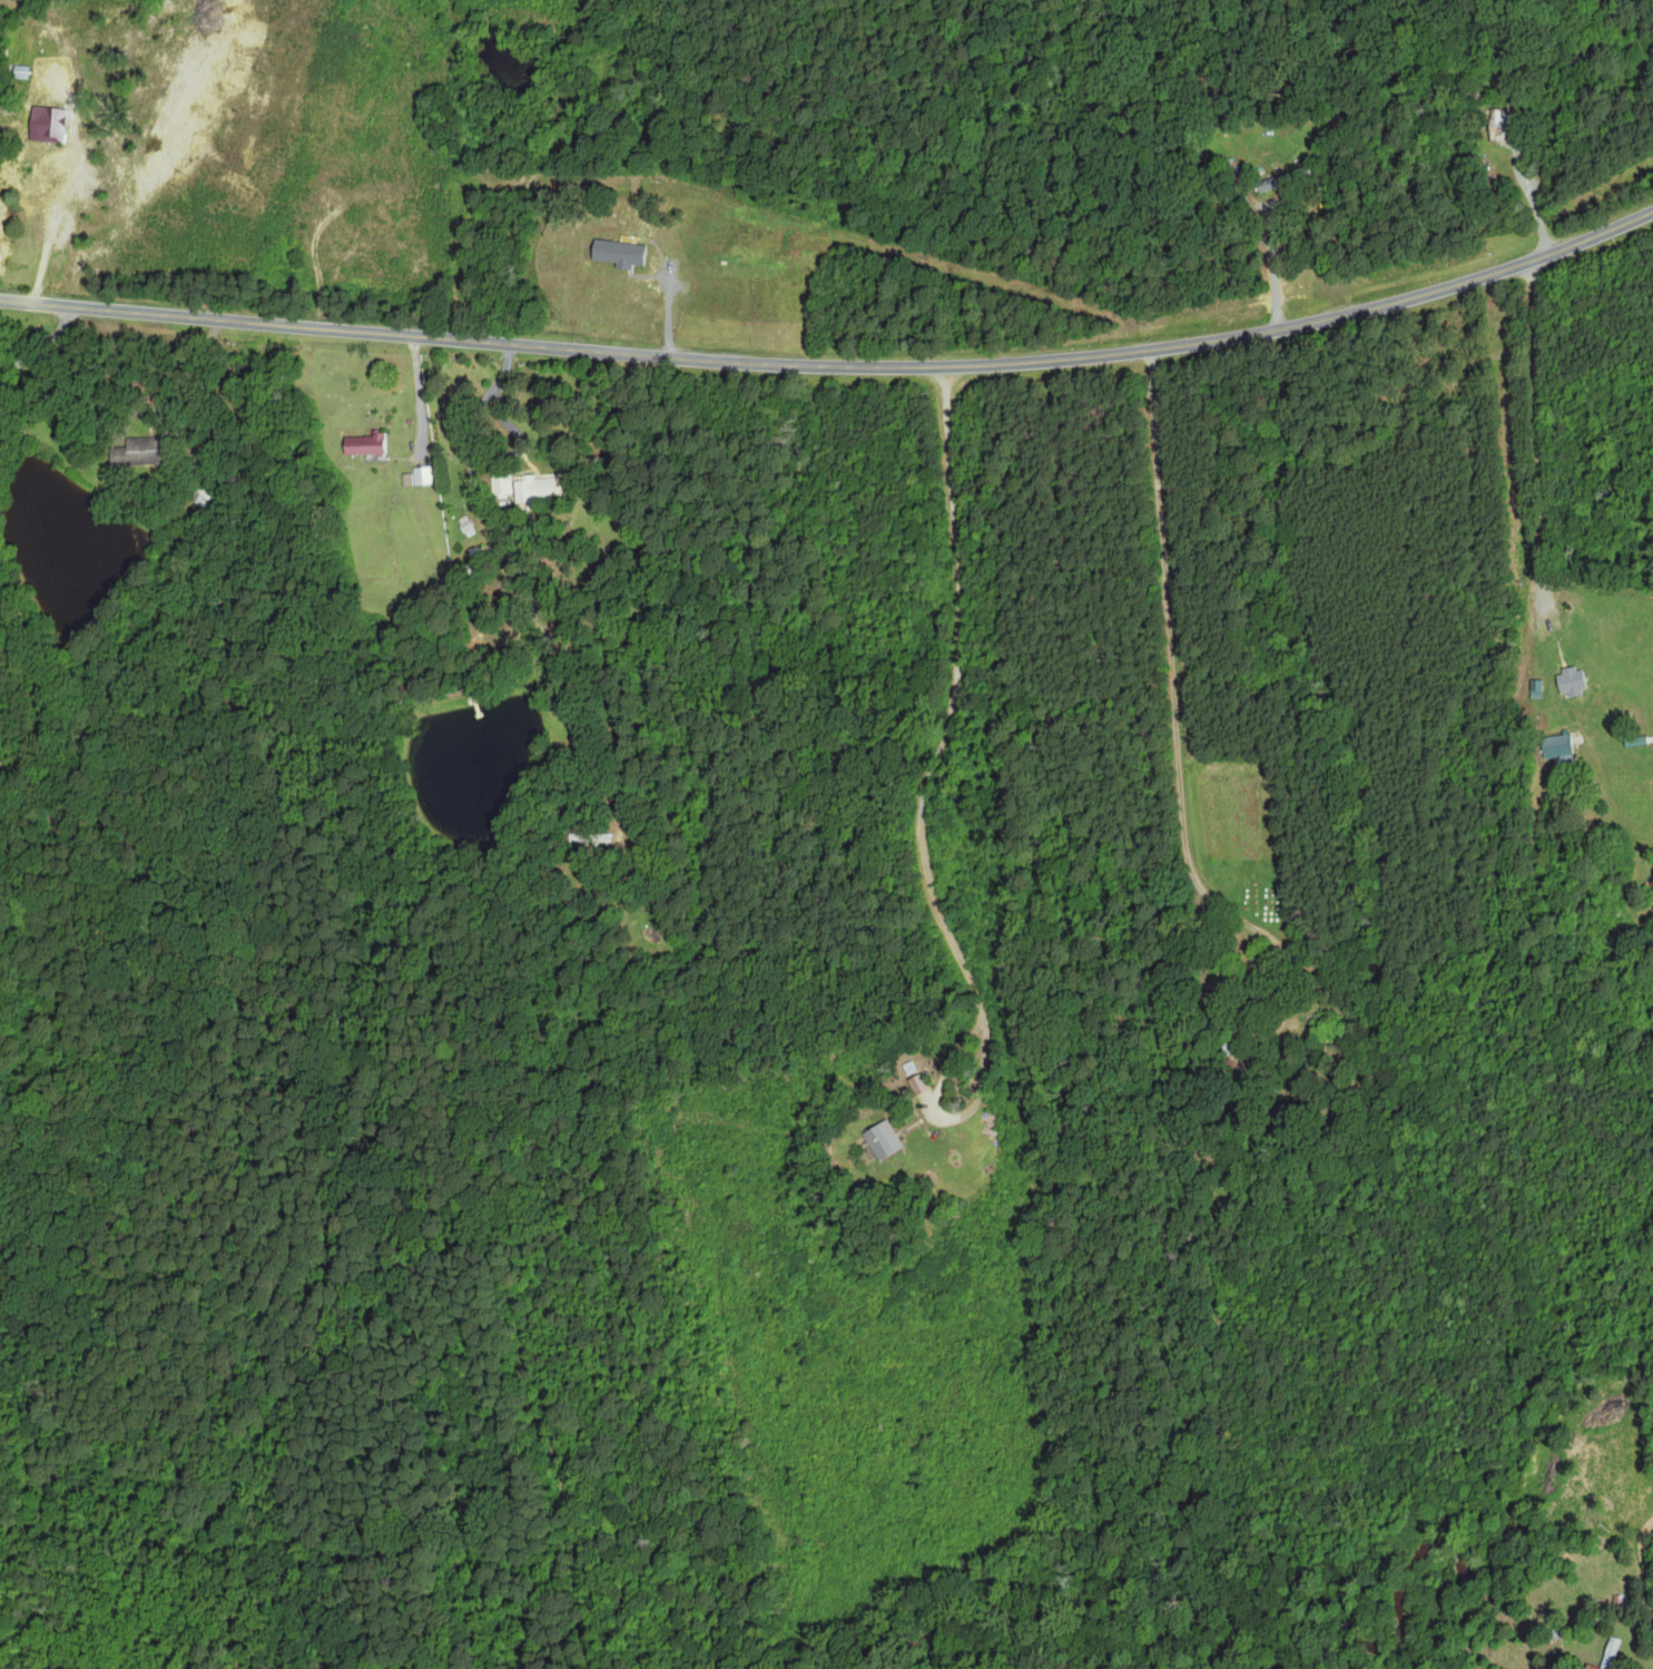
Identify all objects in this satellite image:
building: (61, 125)
building: (627, 253)
road: (268, 320)
road: (1105, 364)
building: (372, 444)
building: (149, 451)
road: (473, 459)
building: (540, 488)
building: (471, 526)
building: (480, 560)
building: (1568, 681)
building: (1556, 747)
building: (915, 1083)
building: (879, 1139)
building: (1612, 1651)
building: (1593, 1667)

